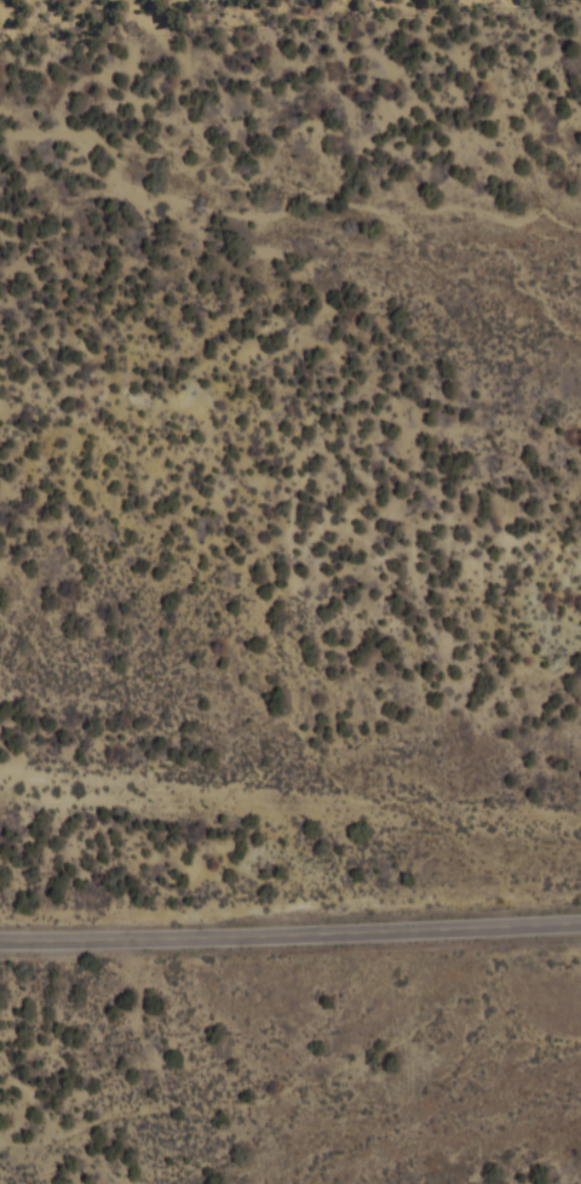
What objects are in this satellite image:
road: (290, 930)

